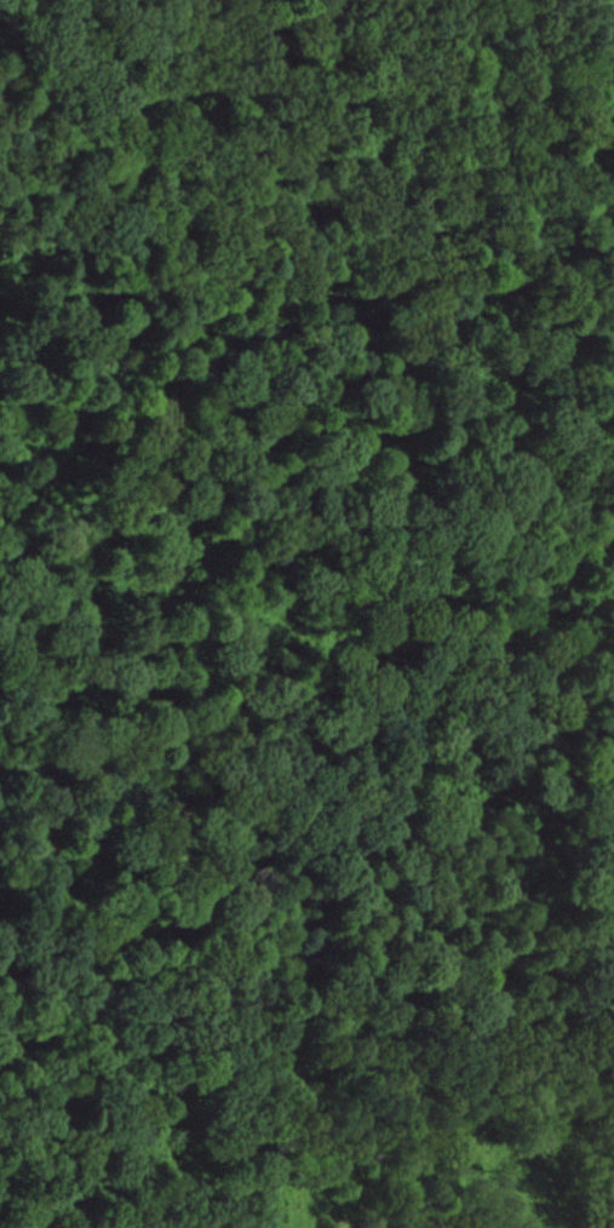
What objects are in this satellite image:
road: (159, 145)
road: (217, 541)
park: (306, 614)
road: (53, 673)
road: (302, 951)

